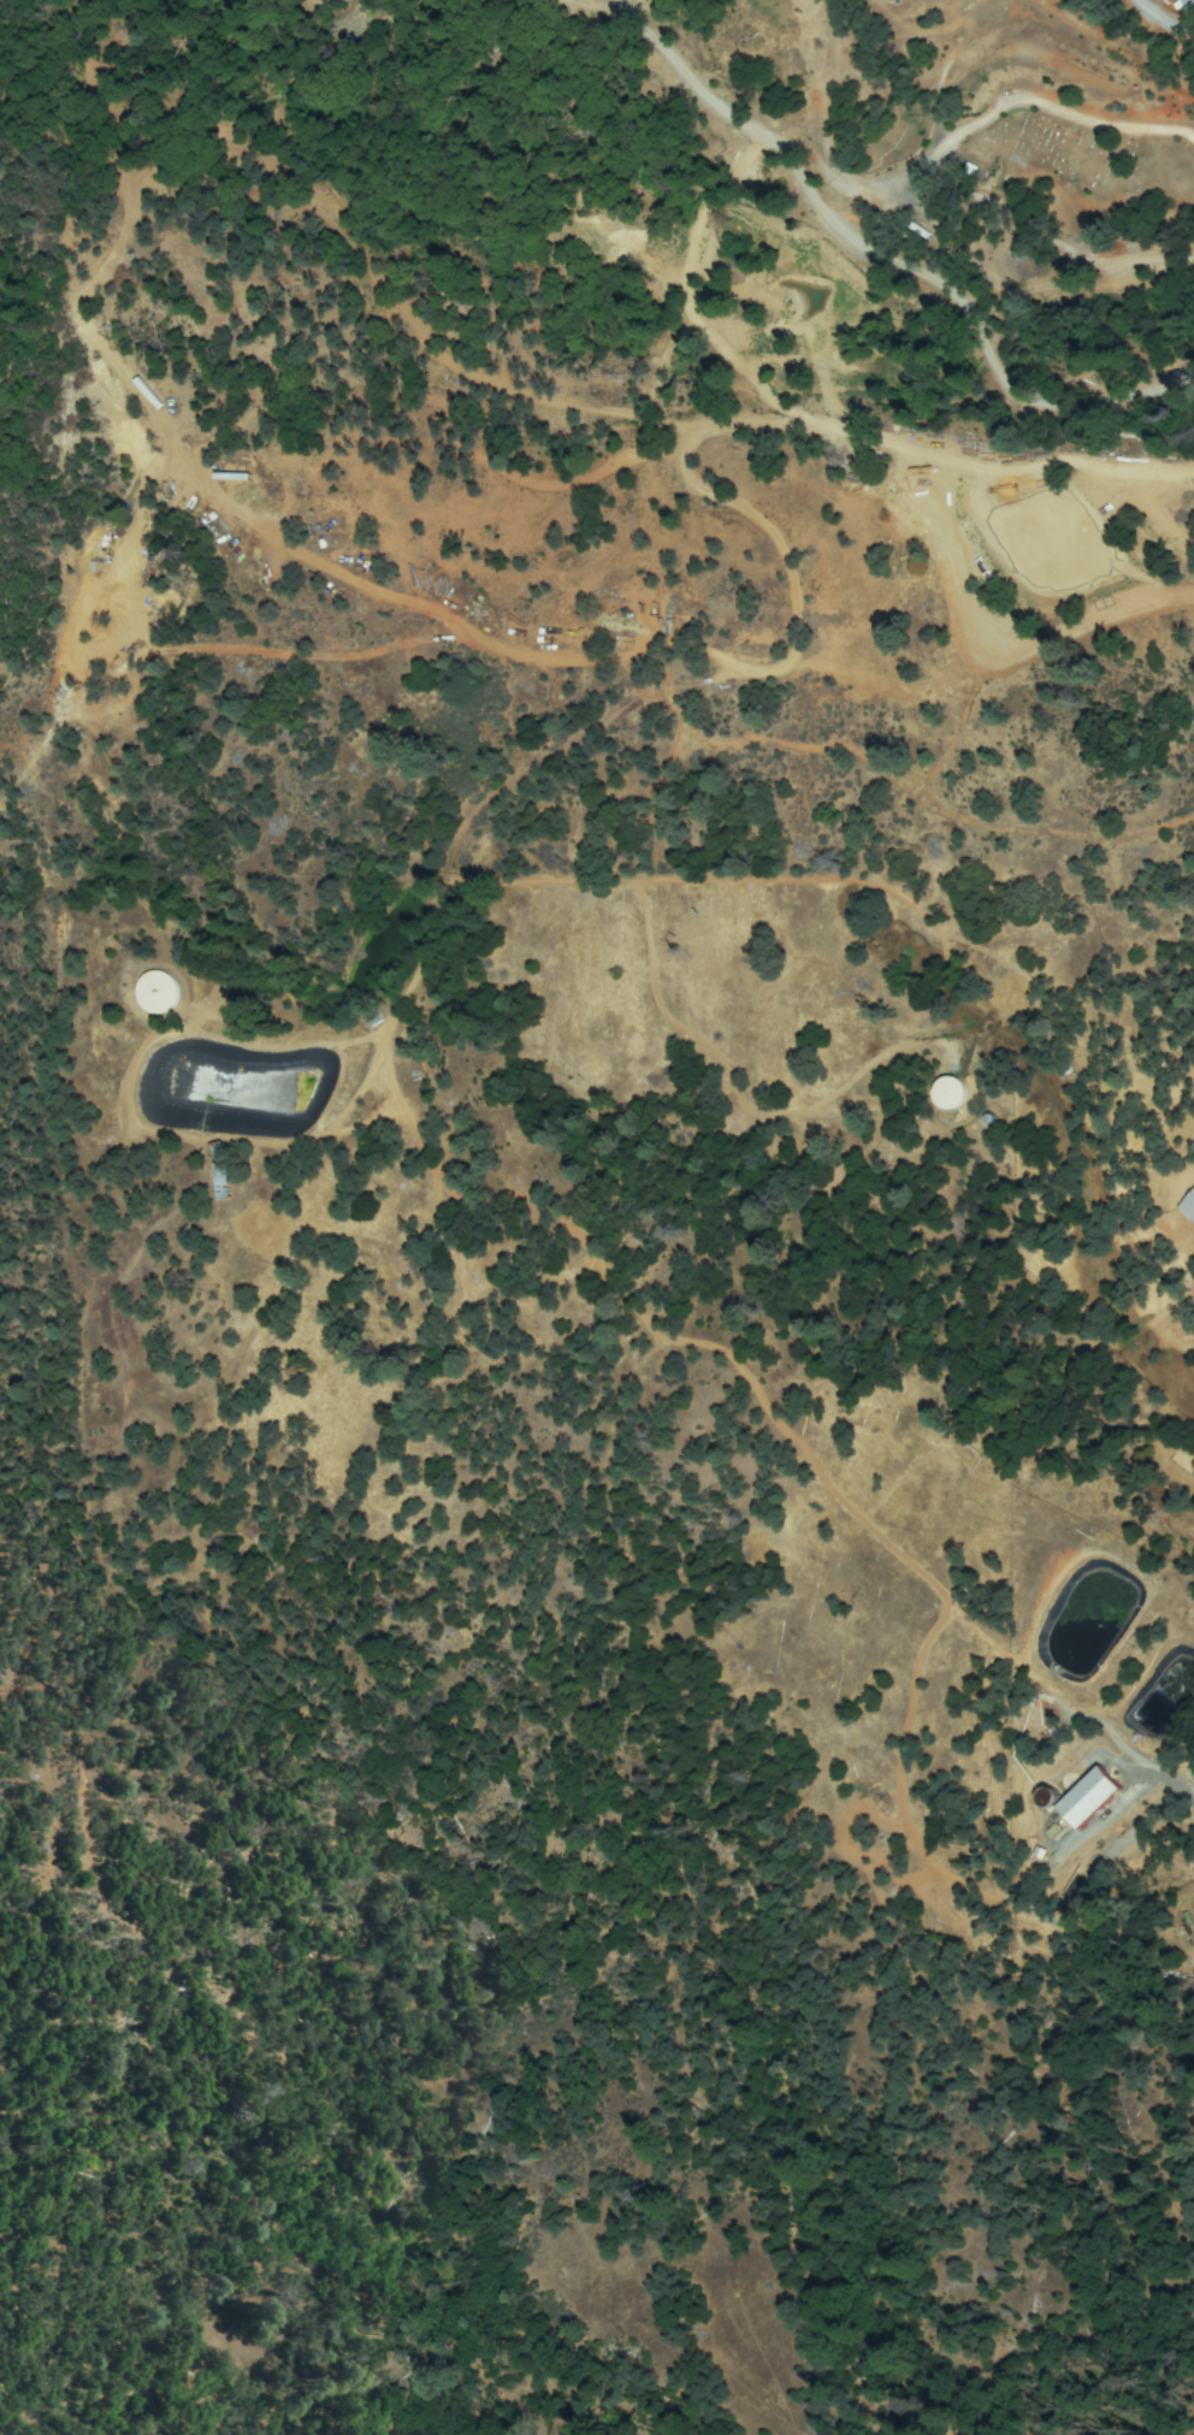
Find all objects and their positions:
building: (973, 169)
building: (922, 230)
road: (957, 448)
building: (1160, 506)
building: (1059, 521)
building: (951, 526)
building: (941, 531)
building: (154, 992)
storage tank: (159, 992)
building: (945, 1091)
storage tank: (951, 1094)
building: (220, 1165)
building: (1189, 1206)
building: (1092, 1797)

